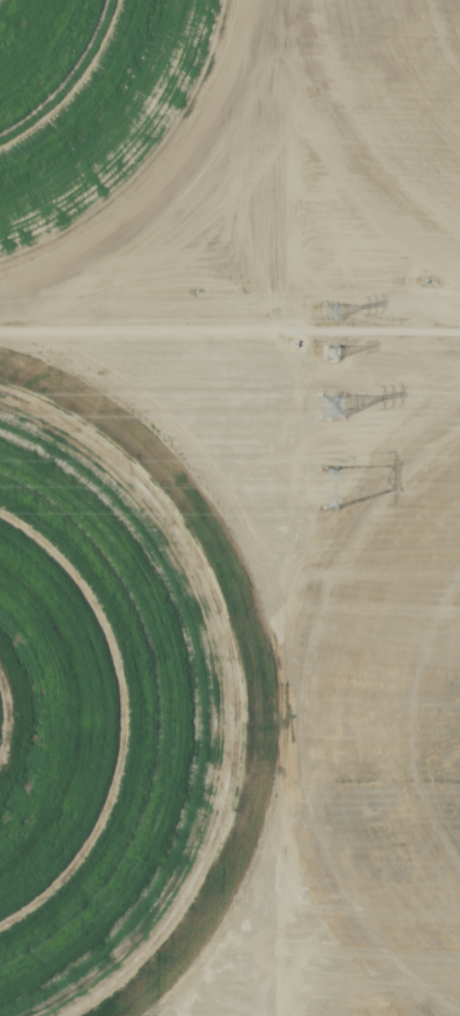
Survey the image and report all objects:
power tower: (334, 311)
power tower: (337, 352)
power tower: (342, 409)
power tower: (337, 484)
crop: (230, 508)

